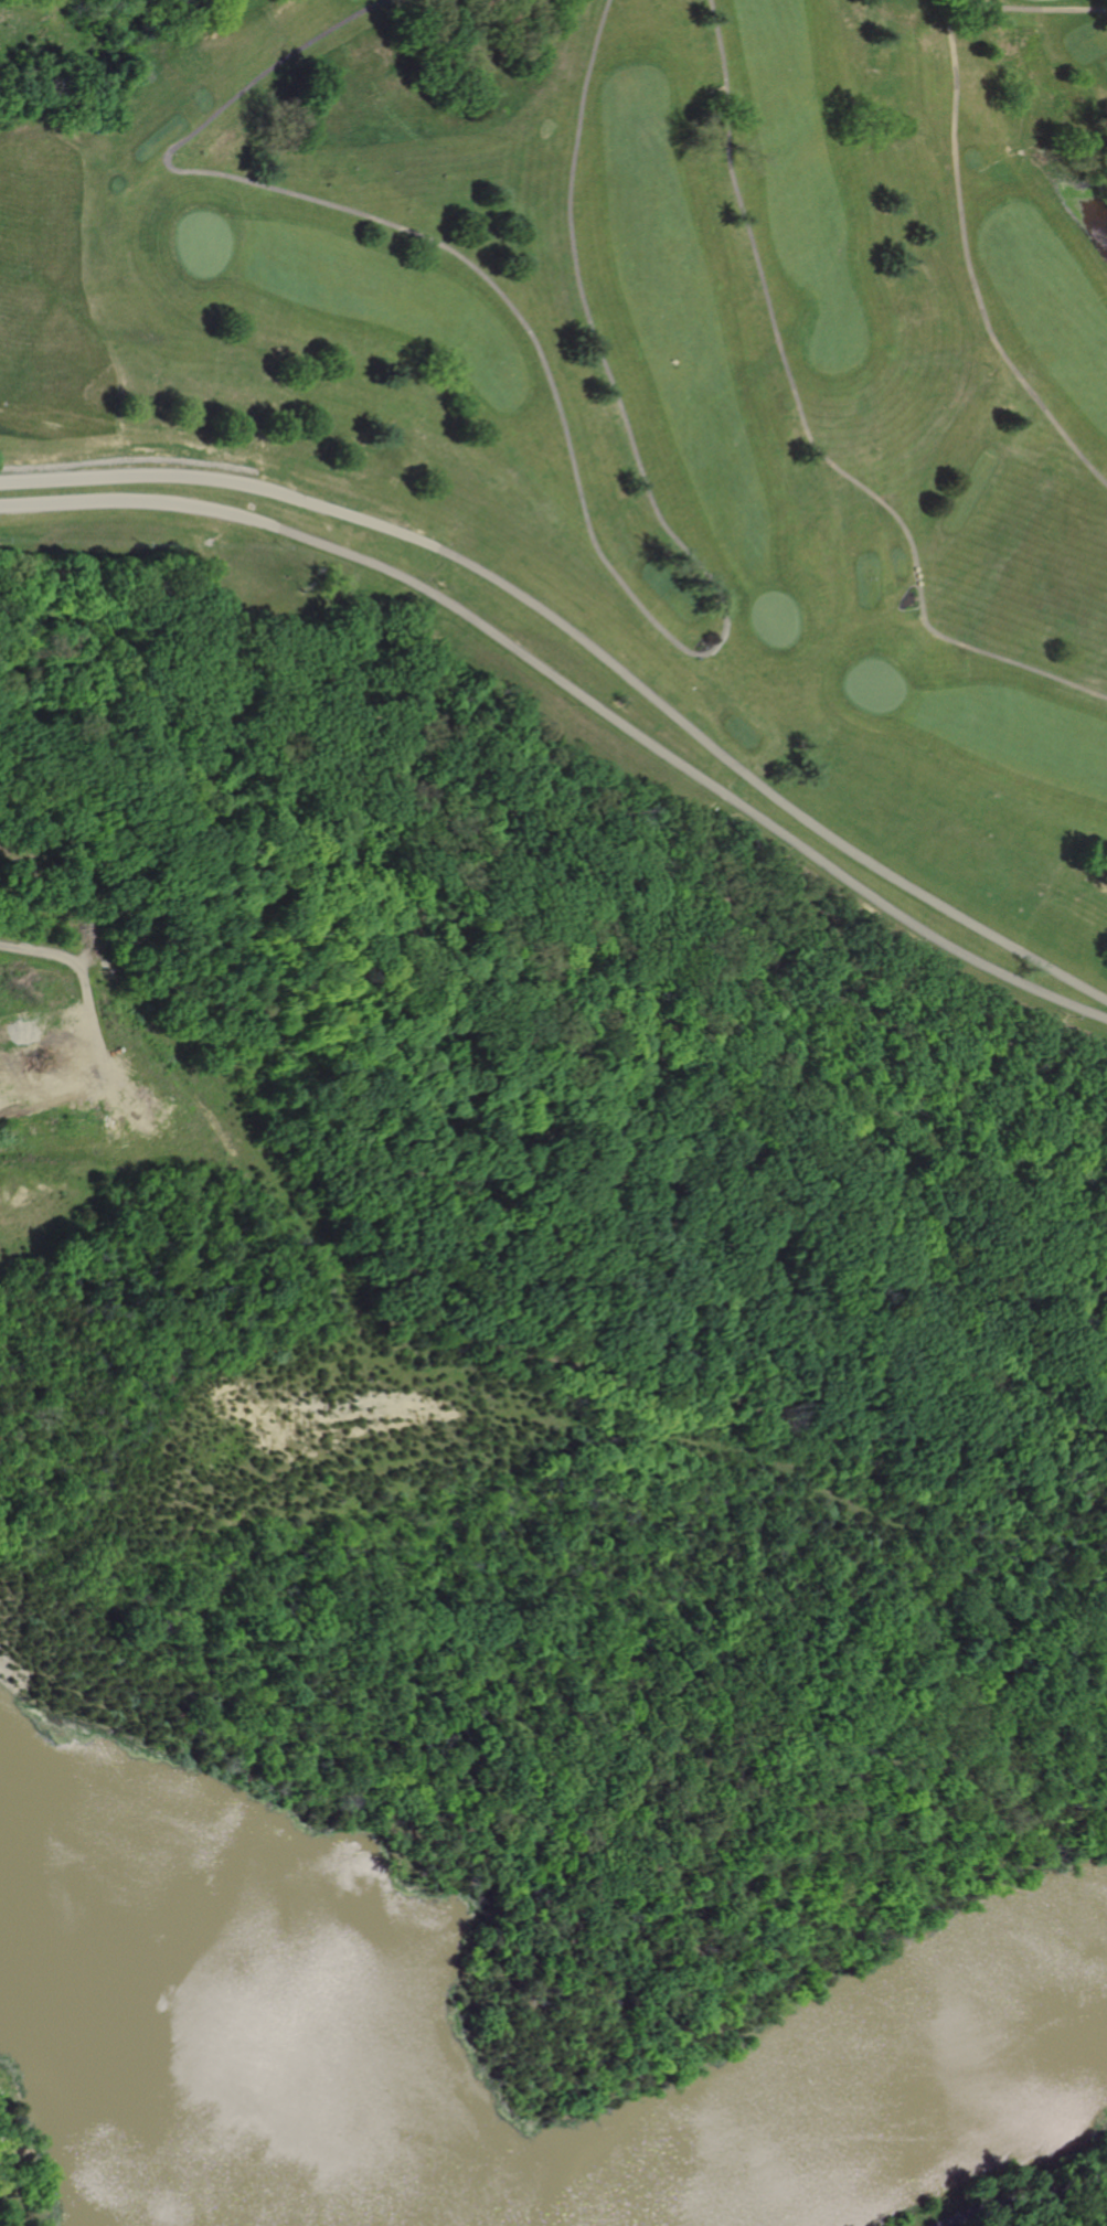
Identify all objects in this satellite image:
road: (1044, 7)
road: (270, 65)
road: (970, 258)
road: (517, 315)
road: (598, 340)
park: (669, 362)
road: (803, 426)
road: (588, 645)
road: (577, 690)
road: (82, 990)
park: (555, 1117)
road: (1021, 2196)

